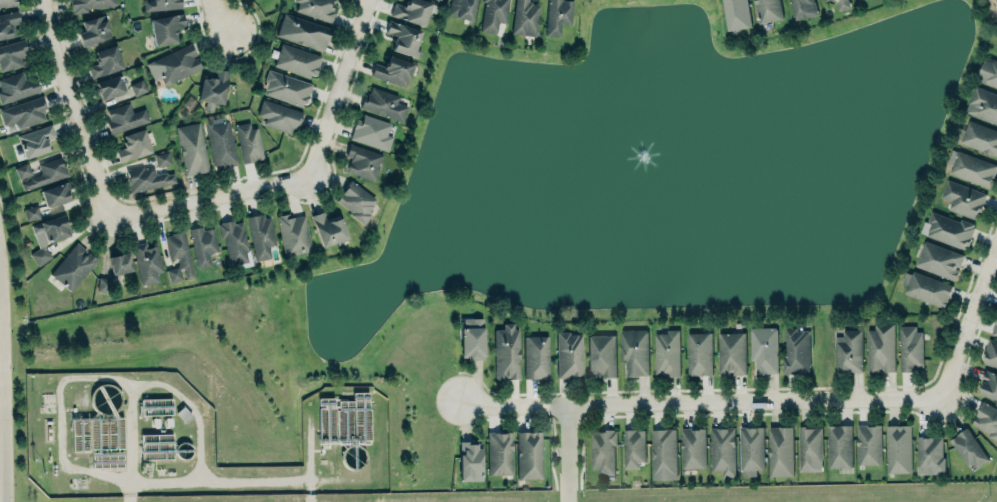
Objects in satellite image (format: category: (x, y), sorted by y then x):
building: (996, 1)
building: (7, 2)
building: (840, 3)
building: (90, 4)
building: (161, 4)
building: (317, 8)
building: (461, 8)
building: (802, 8)
building: (768, 10)
building: (411, 11)
building: (736, 14)
building: (492, 15)
building: (557, 15)
road: (220, 16)
building: (524, 17)
building: (8, 23)
building: (166, 27)
building: (93, 30)
building: (303, 31)
building: (403, 37)
building: (12, 54)
building: (297, 59)
building: (104, 61)
building: (173, 64)
building: (393, 71)
building: (988, 72)
building: (17, 86)
building: (109, 86)
building: (137, 86)
building: (286, 87)
building: (213, 89)
road: (341, 89)
building: (383, 103)
building: (983, 105)
road: (76, 108)
building: (25, 111)
building: (278, 115)
building: (125, 117)
building: (371, 131)
building: (981, 137)
building: (35, 140)
building: (249, 141)
building: (221, 143)
building: (134, 145)
building: (192, 148)
building: (161, 158)
building: (363, 161)
fountain: (635, 164)
building: (973, 169)
building: (22, 170)
building: (46, 173)
building: (147, 178)
building: (54, 194)
road: (213, 197)
building: (962, 199)
building: (355, 200)
building: (31, 212)
building: (52, 228)
building: (328, 228)
building: (948, 230)
building: (293, 233)
building: (261, 234)
building: (234, 240)
building: (202, 244)
building: (178, 256)
building: (939, 260)
building: (146, 262)
building: (120, 264)
building: (73, 266)
building: (103, 284)
building: (925, 288)
road: (968, 320)
building: (994, 328)
building: (471, 338)
building: (909, 347)
building: (880, 348)
building: (763, 349)
building: (795, 350)
building: (506, 351)
building: (634, 351)
building: (849, 351)
building: (665, 353)
building: (697, 353)
building: (730, 353)
building: (568, 354)
building: (990, 354)
building: (601, 355)
building: (535, 356)
road: (124, 379)
building: (989, 385)
road: (699, 401)
building: (156, 406)
building: (343, 418)
building: (987, 419)
road: (131, 433)
building: (868, 444)
building: (156, 445)
building: (840, 446)
building: (632, 448)
building: (692, 448)
building: (751, 448)
building: (810, 448)
building: (898, 448)
building: (967, 449)
building: (722, 450)
building: (603, 451)
building: (781, 451)
building: (499, 453)
road: (568, 453)
building: (663, 453)
building: (930, 453)
building: (528, 454)
building: (469, 460)
road: (130, 492)

